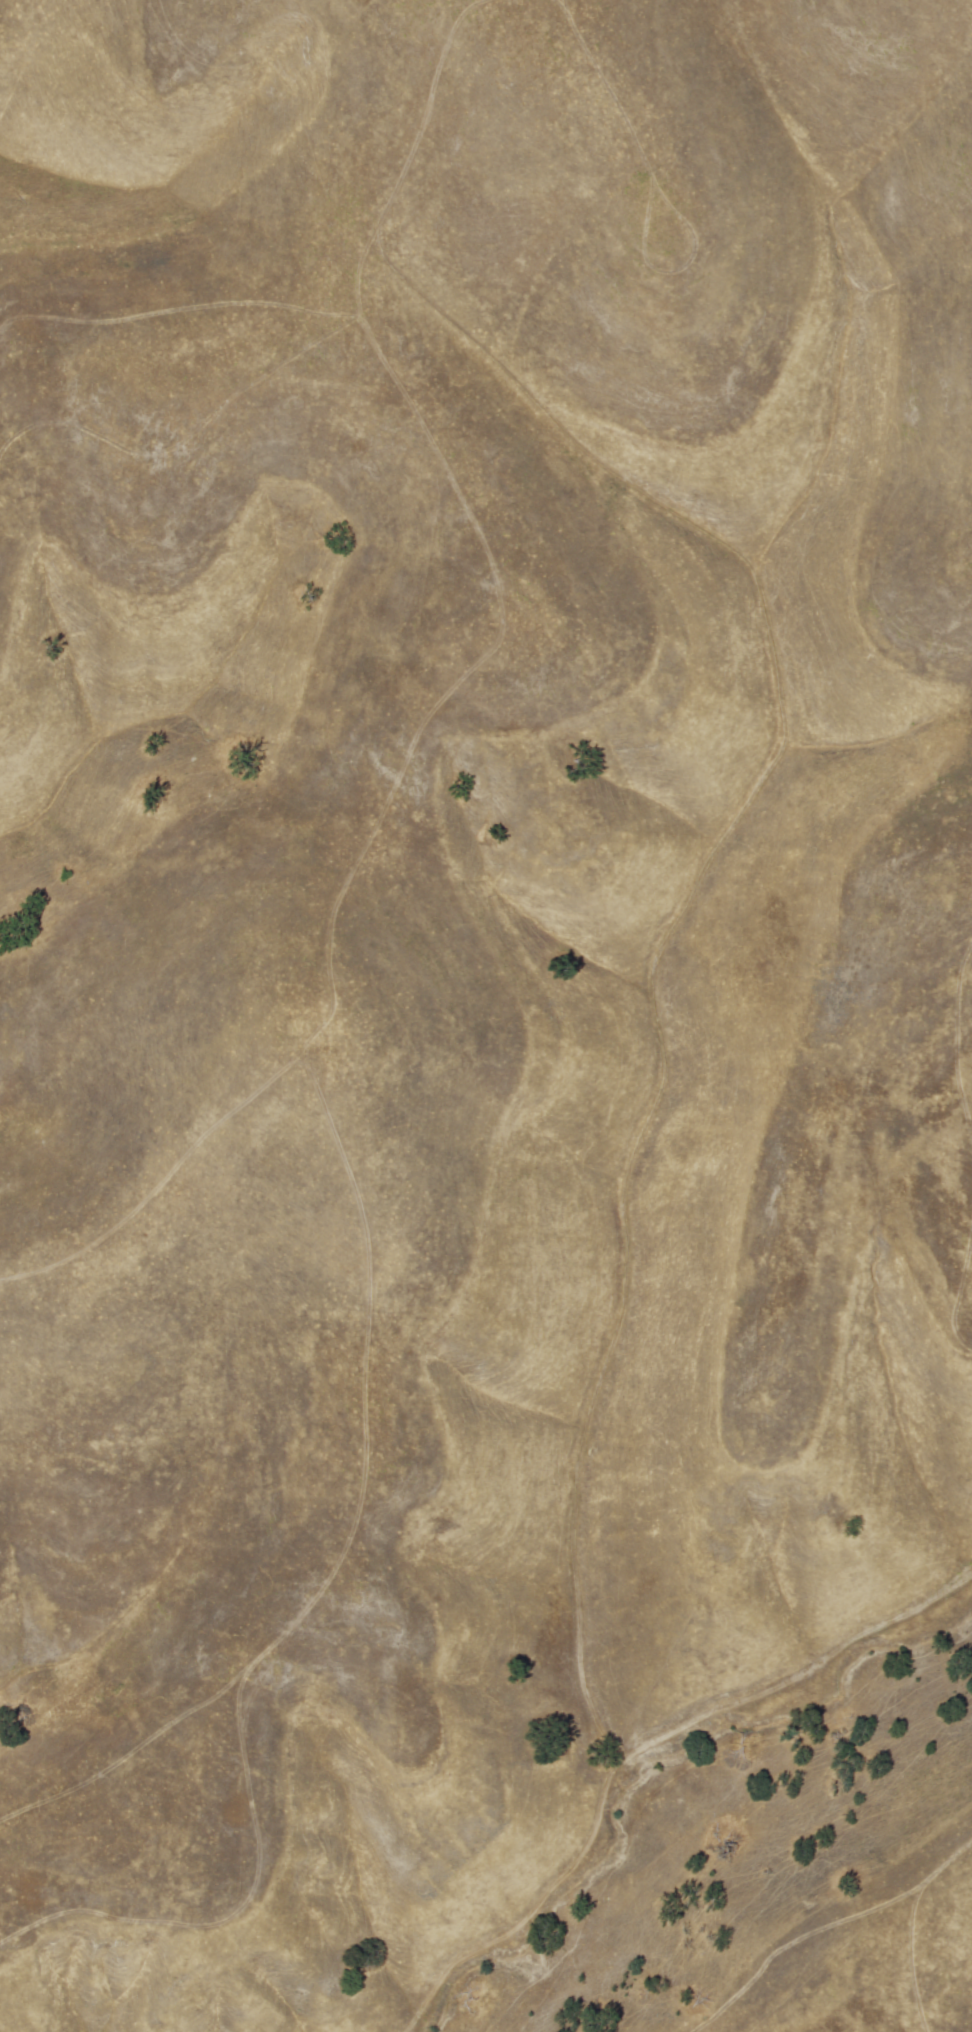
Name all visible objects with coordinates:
road: (632, 1743)

